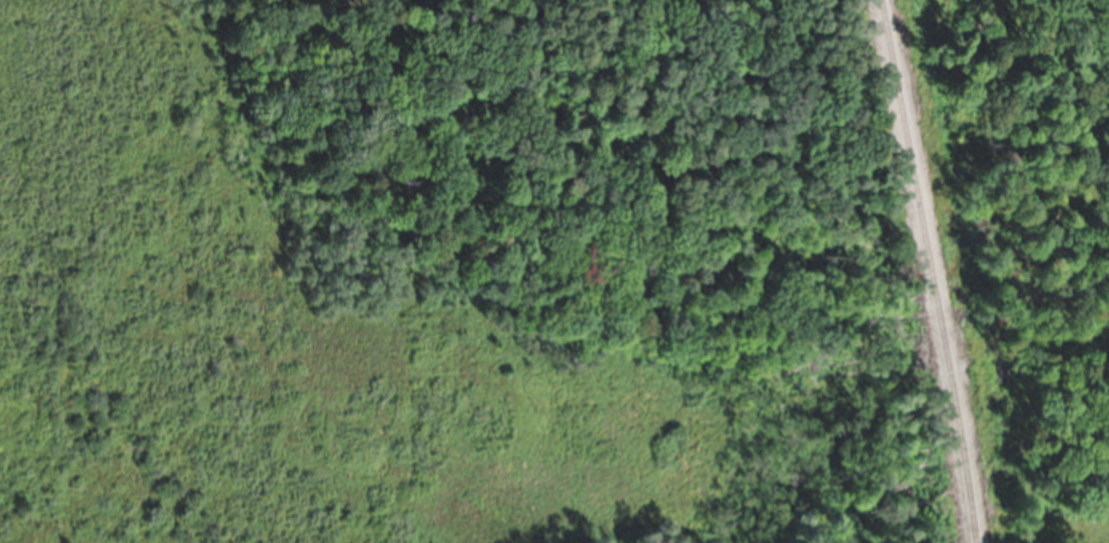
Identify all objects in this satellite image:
railway: (928, 271)

